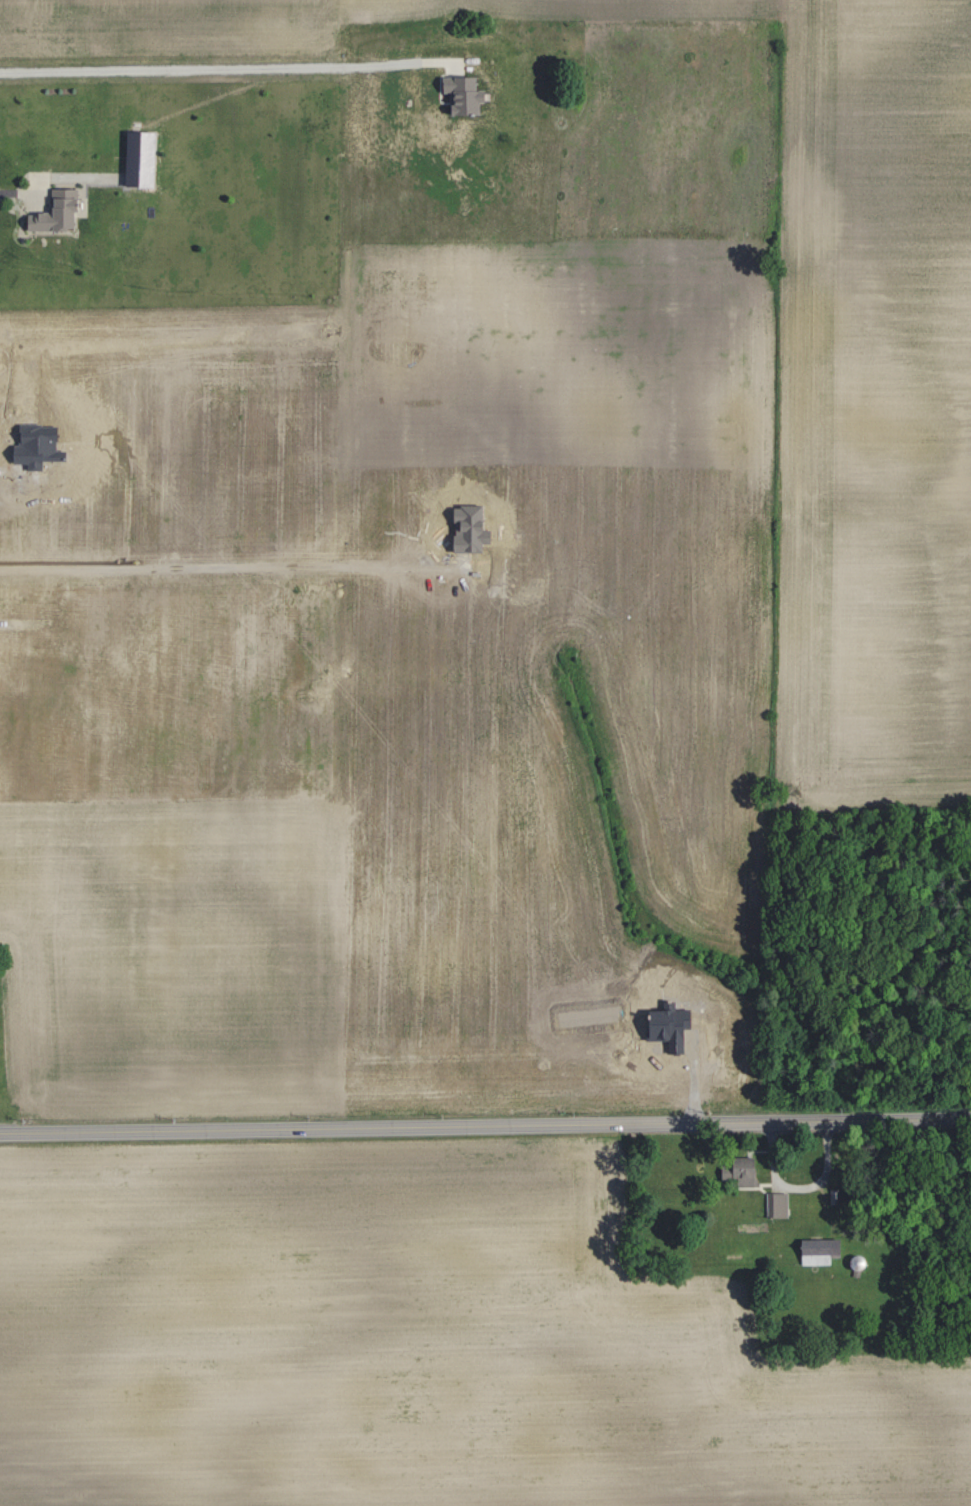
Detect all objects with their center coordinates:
road: (224, 64)
building: (456, 92)
building: (135, 157)
road: (22, 189)
building: (50, 210)
road: (39, 482)
road: (233, 564)
road: (485, 1125)
building: (737, 1170)
building: (774, 1204)
building: (816, 1250)

